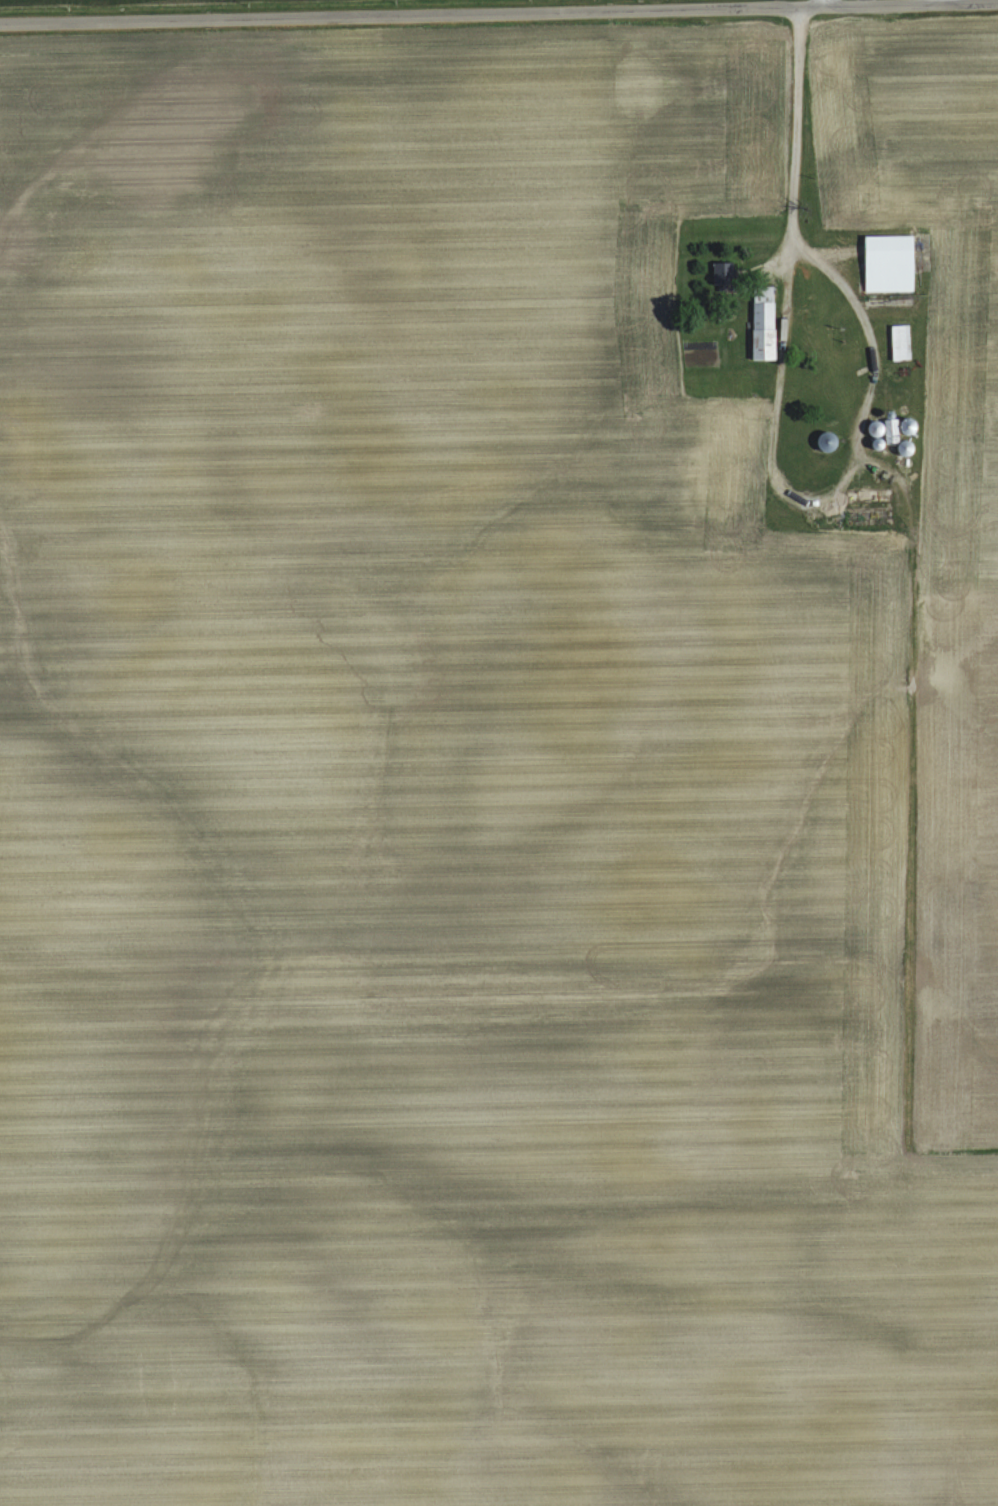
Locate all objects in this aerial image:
road: (498, 12)
road: (801, 143)
building: (889, 266)
building: (723, 275)
road: (867, 322)
building: (764, 323)
building: (900, 341)
road: (785, 345)
silo: (908, 424)
silo: (876, 427)
building: (893, 432)
silo: (827, 441)
silo: (878, 443)
silo: (906, 447)
building: (870, 497)
road: (795, 504)

